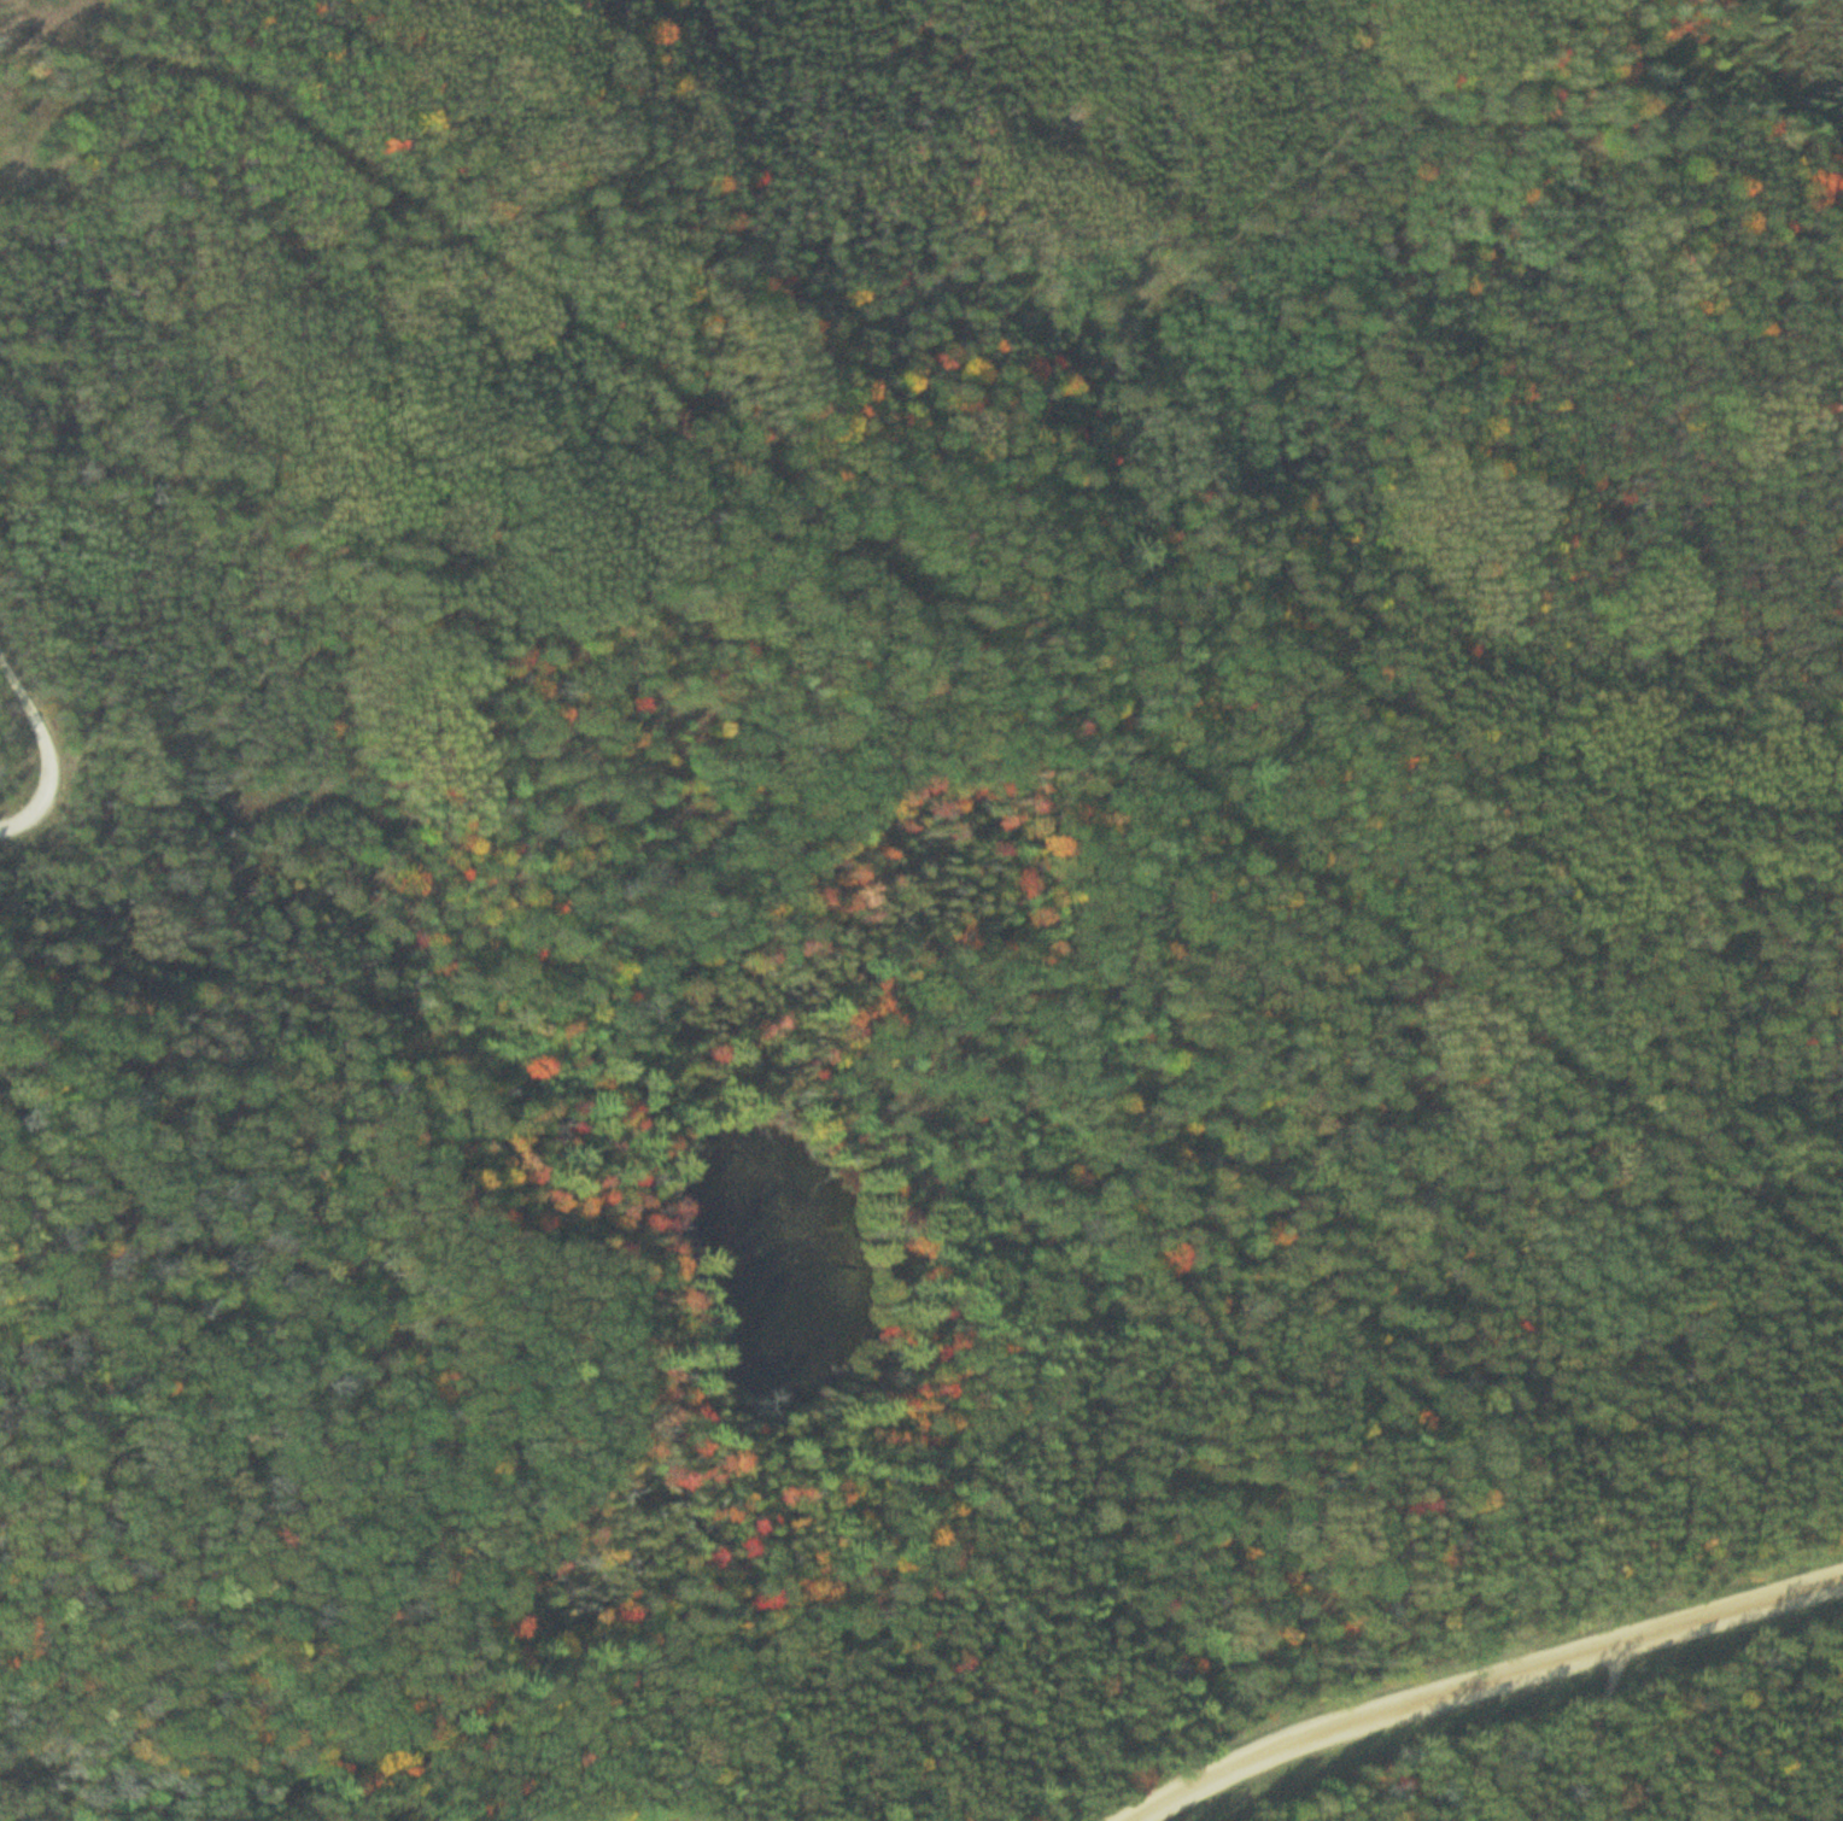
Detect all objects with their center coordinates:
road: (46, 748)
road: (1789, 1594)
road: (1434, 1703)
road: (1607, 1733)

